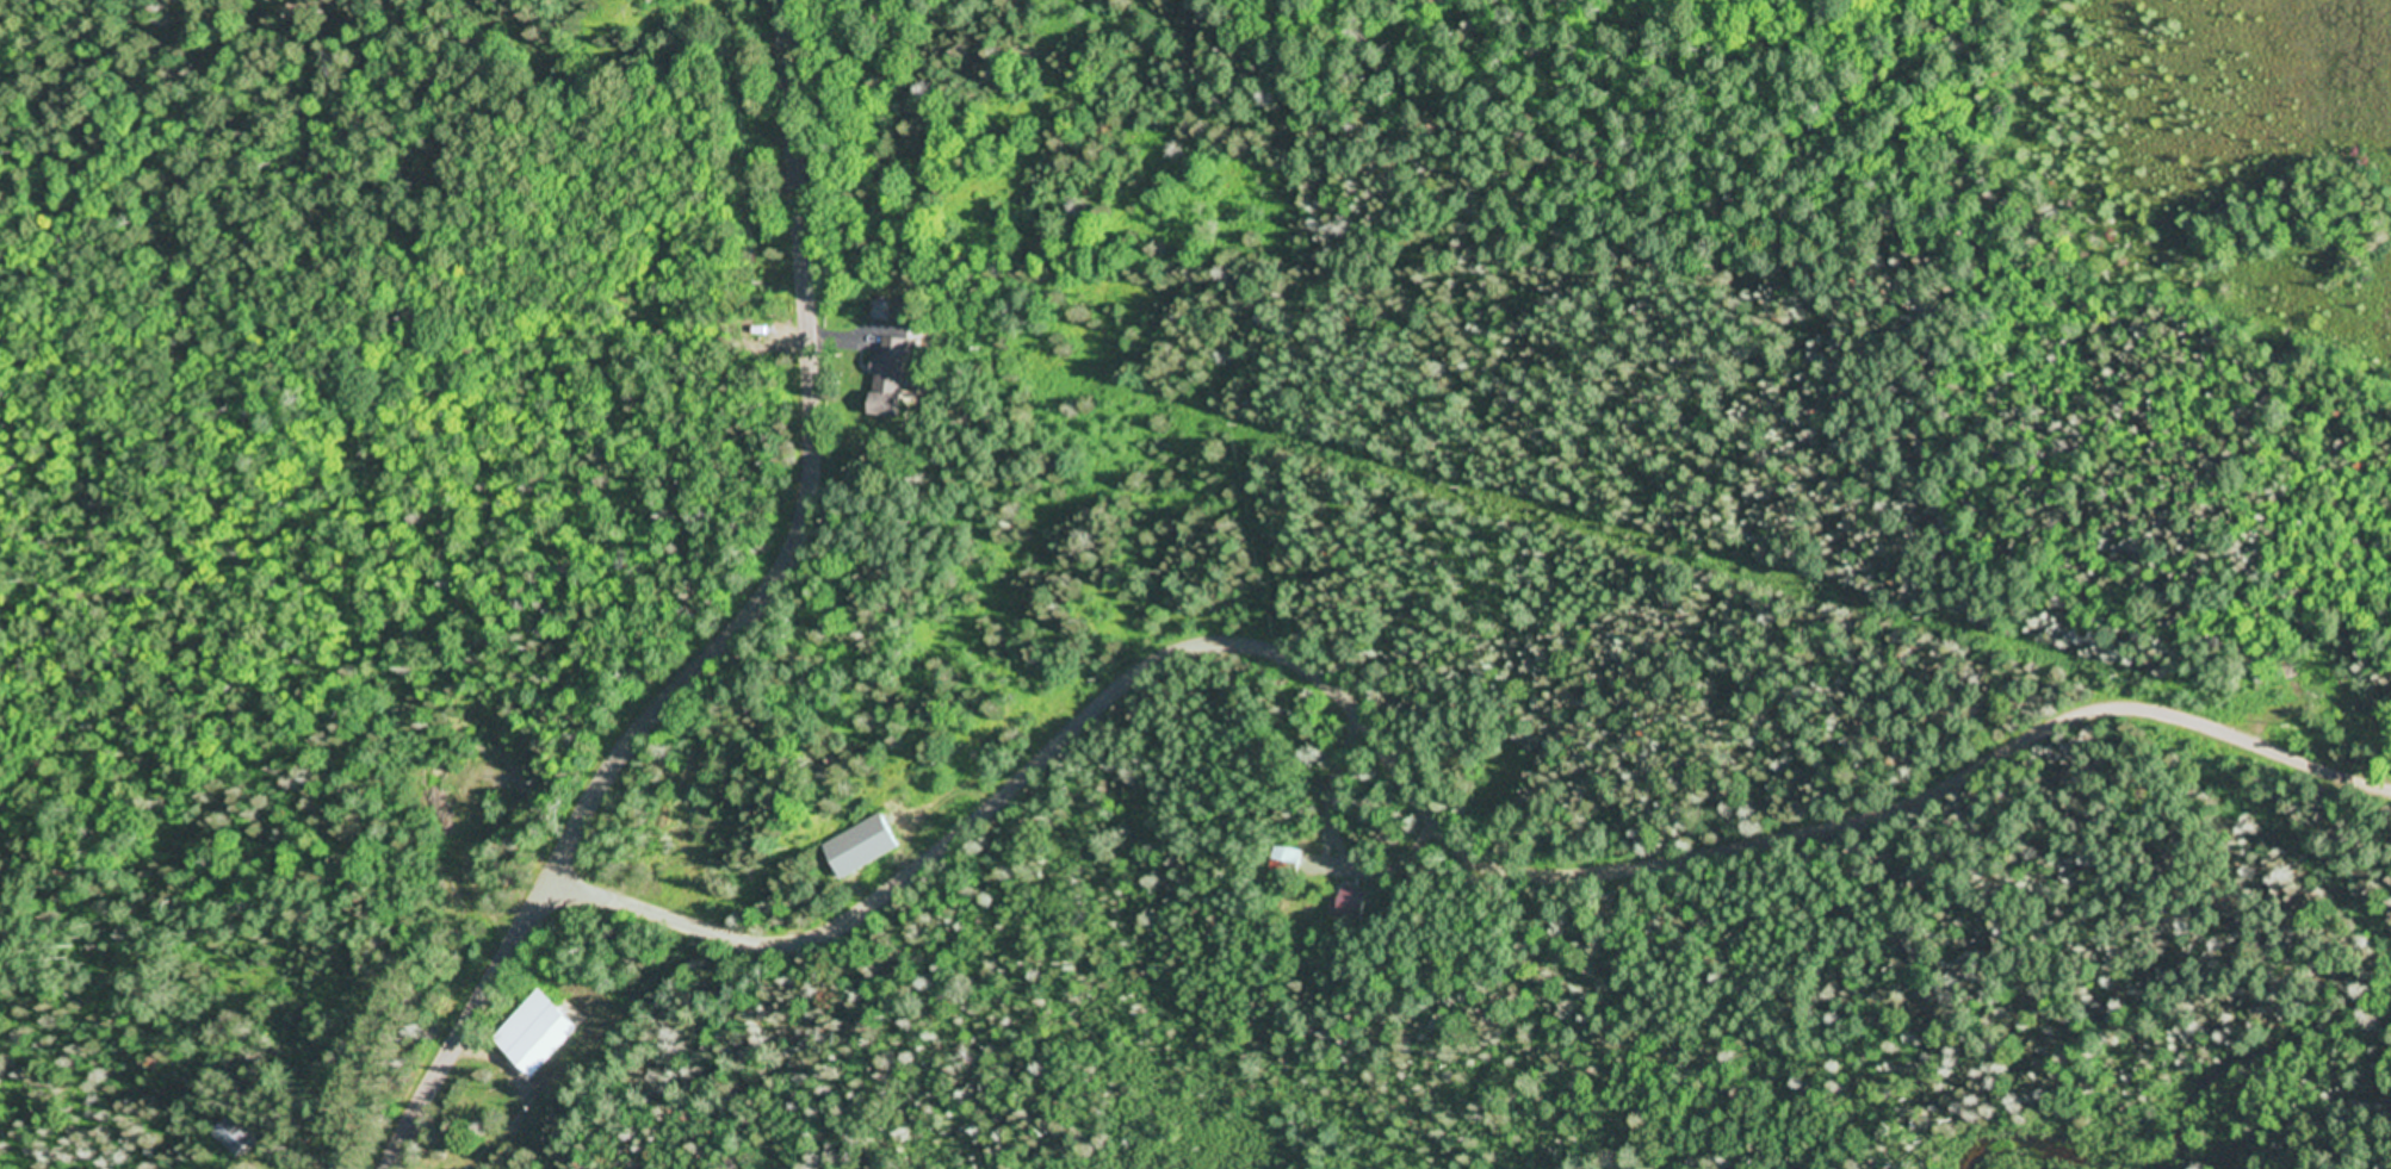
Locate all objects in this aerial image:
building: (897, 378)
road: (739, 623)
road: (1424, 784)
building: (865, 847)
building: (1291, 854)
building: (541, 1032)
river: (2262, 1055)
river: (2033, 1143)

